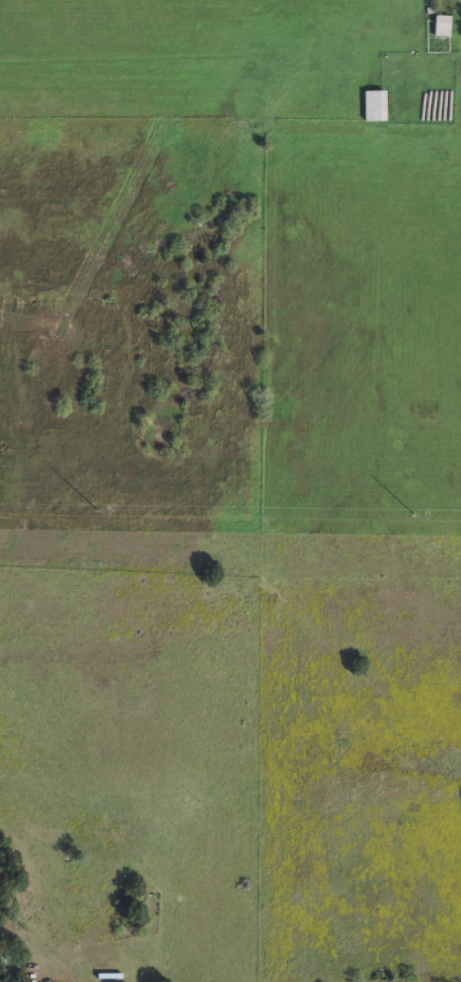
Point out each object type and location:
building: (439, 25)
building: (371, 105)

